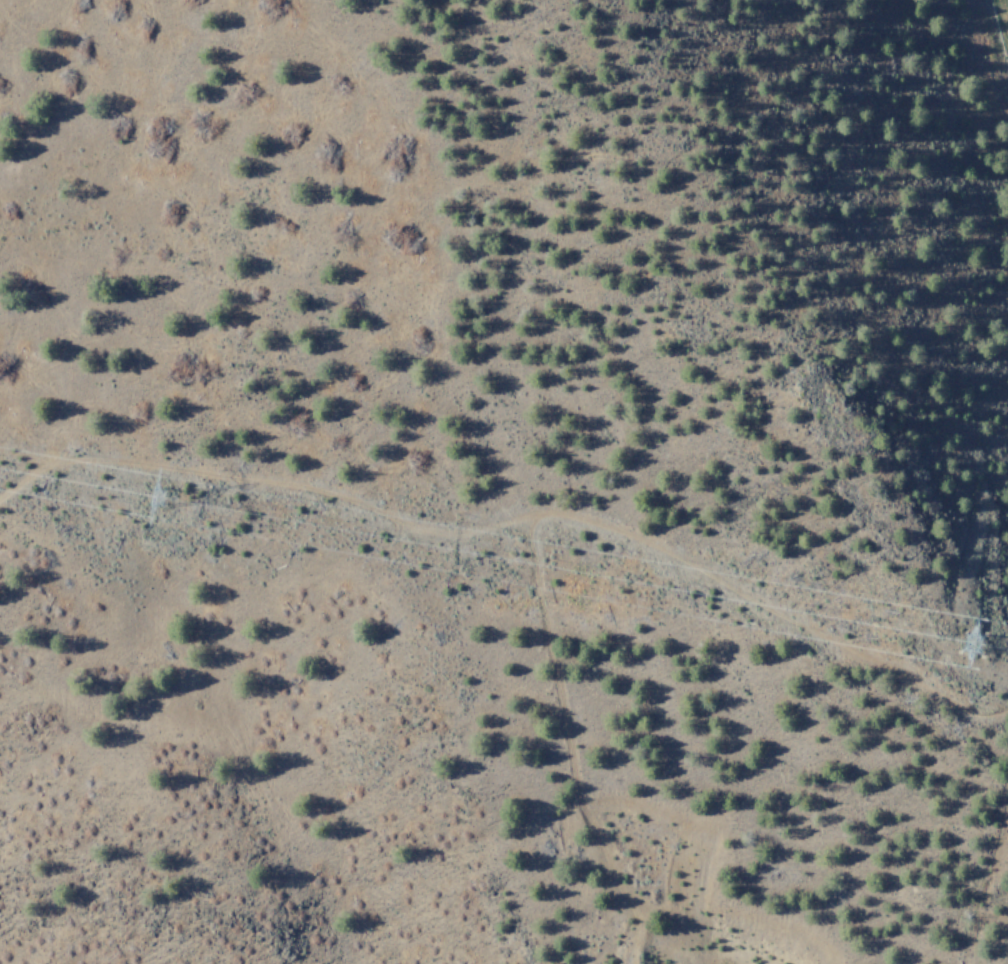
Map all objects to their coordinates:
power tower: (167, 500)
power tower: (974, 644)

